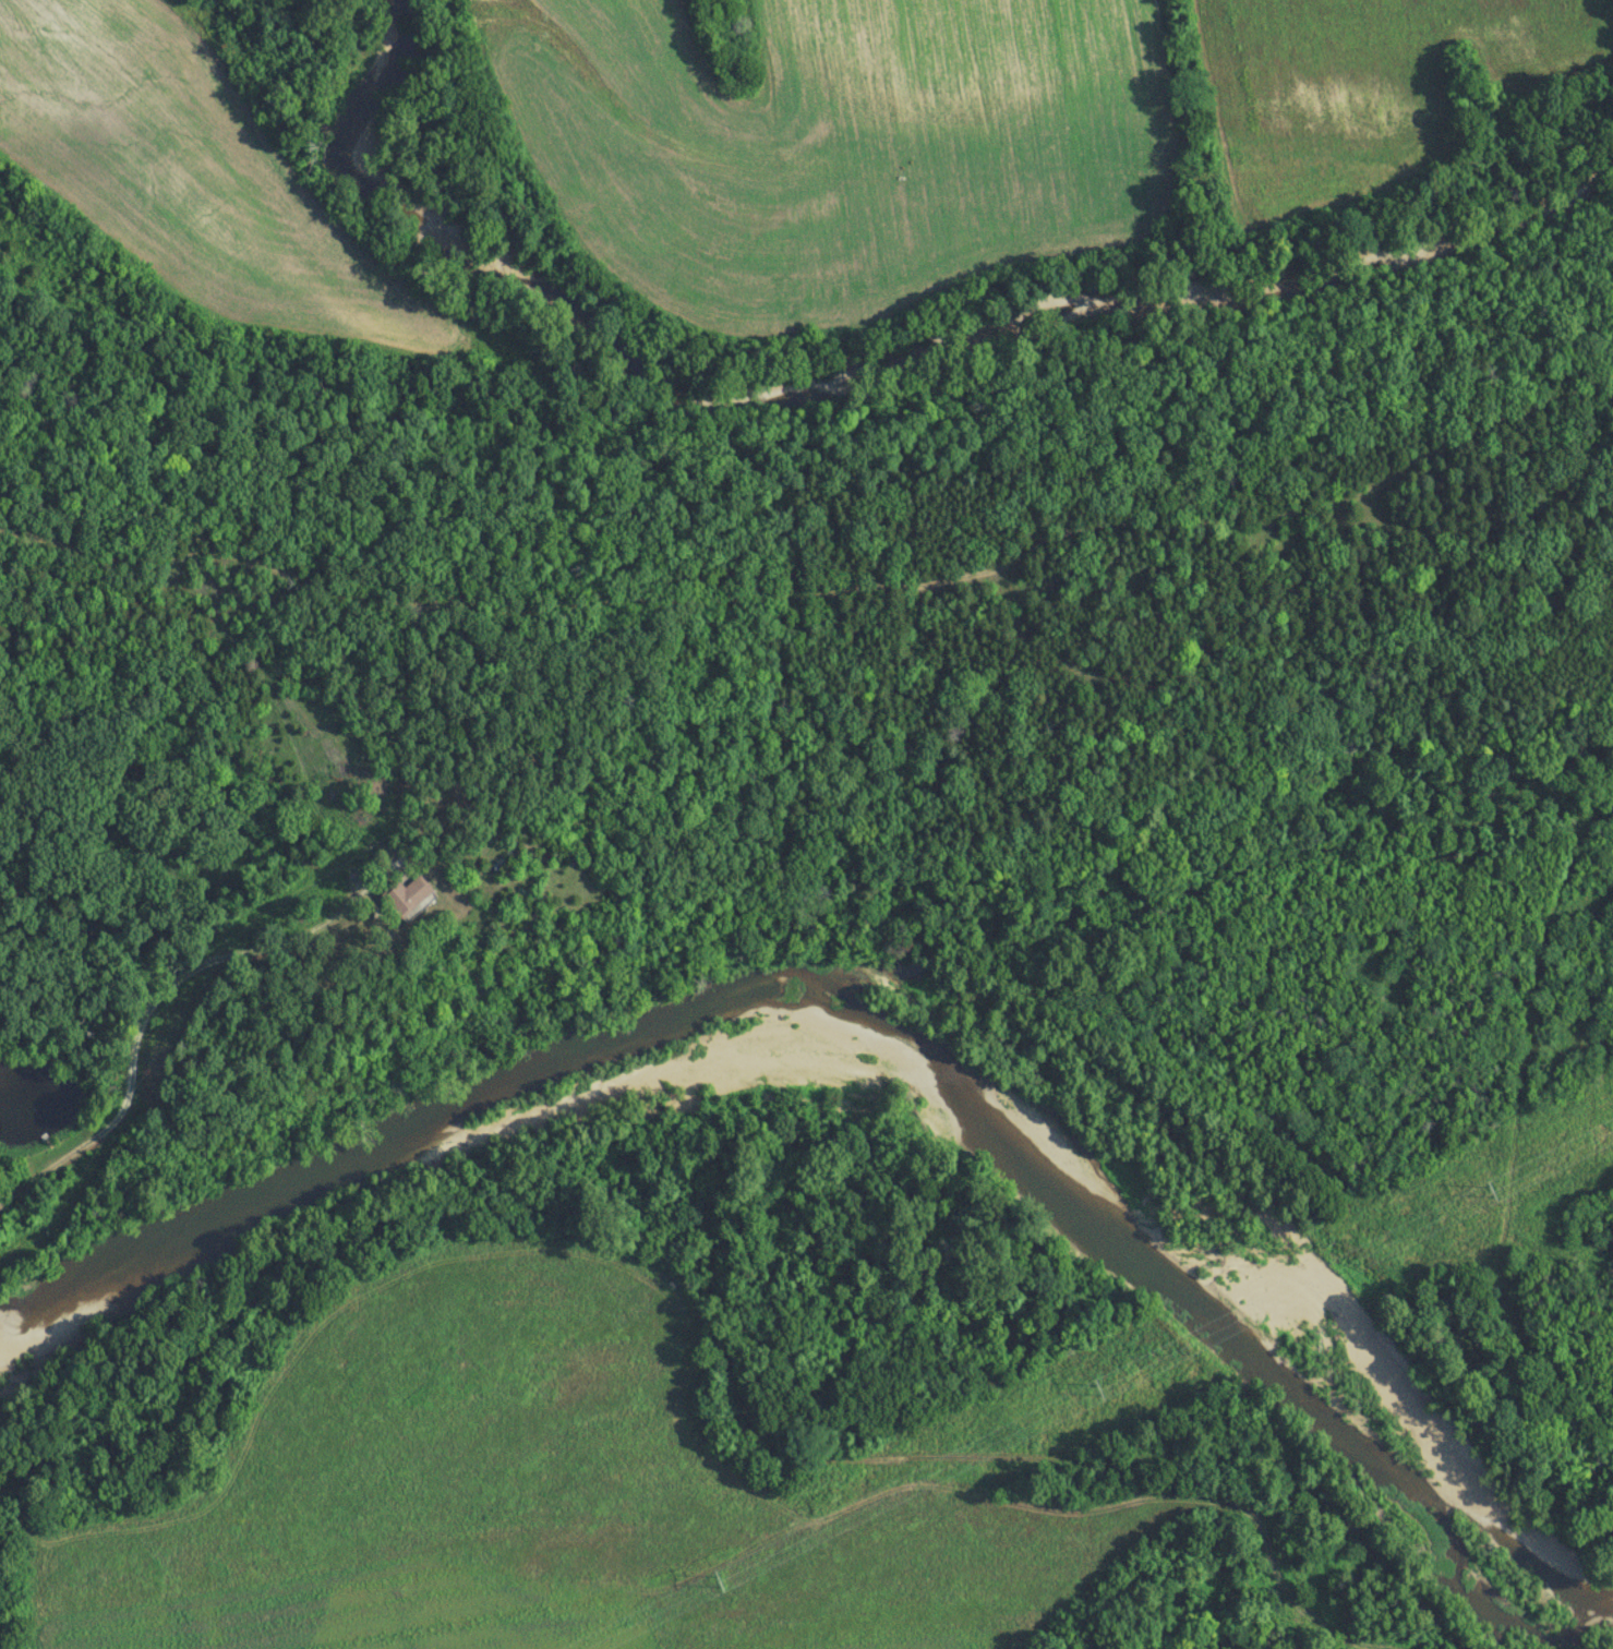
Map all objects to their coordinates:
building: (411, 898)
road: (144, 1010)
river: (853, 1018)
power tower: (1490, 1191)
power tower: (1096, 1391)
power tower: (719, 1580)

